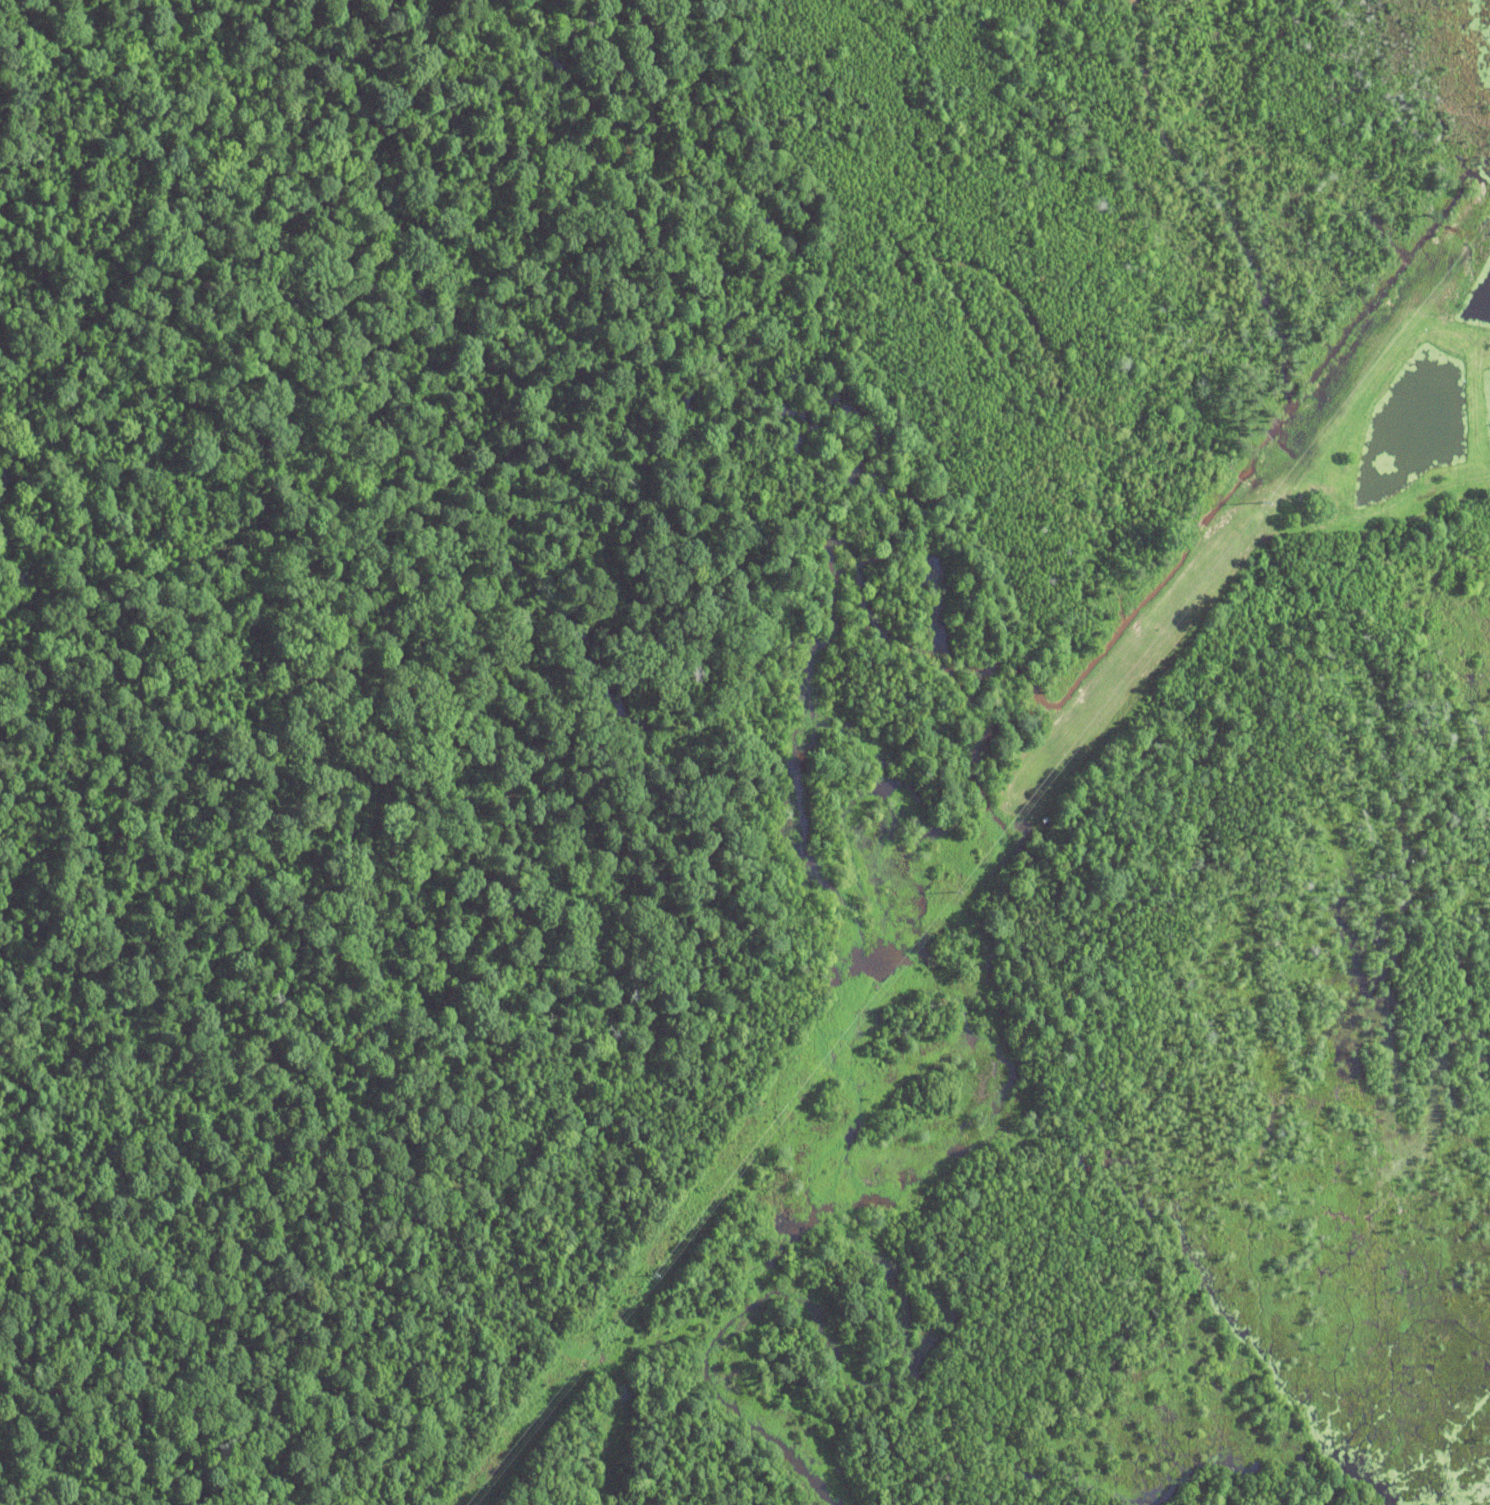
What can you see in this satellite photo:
road: (1367, 401)
road: (1483, 471)
power tower: (953, 892)
power tower: (651, 1272)

